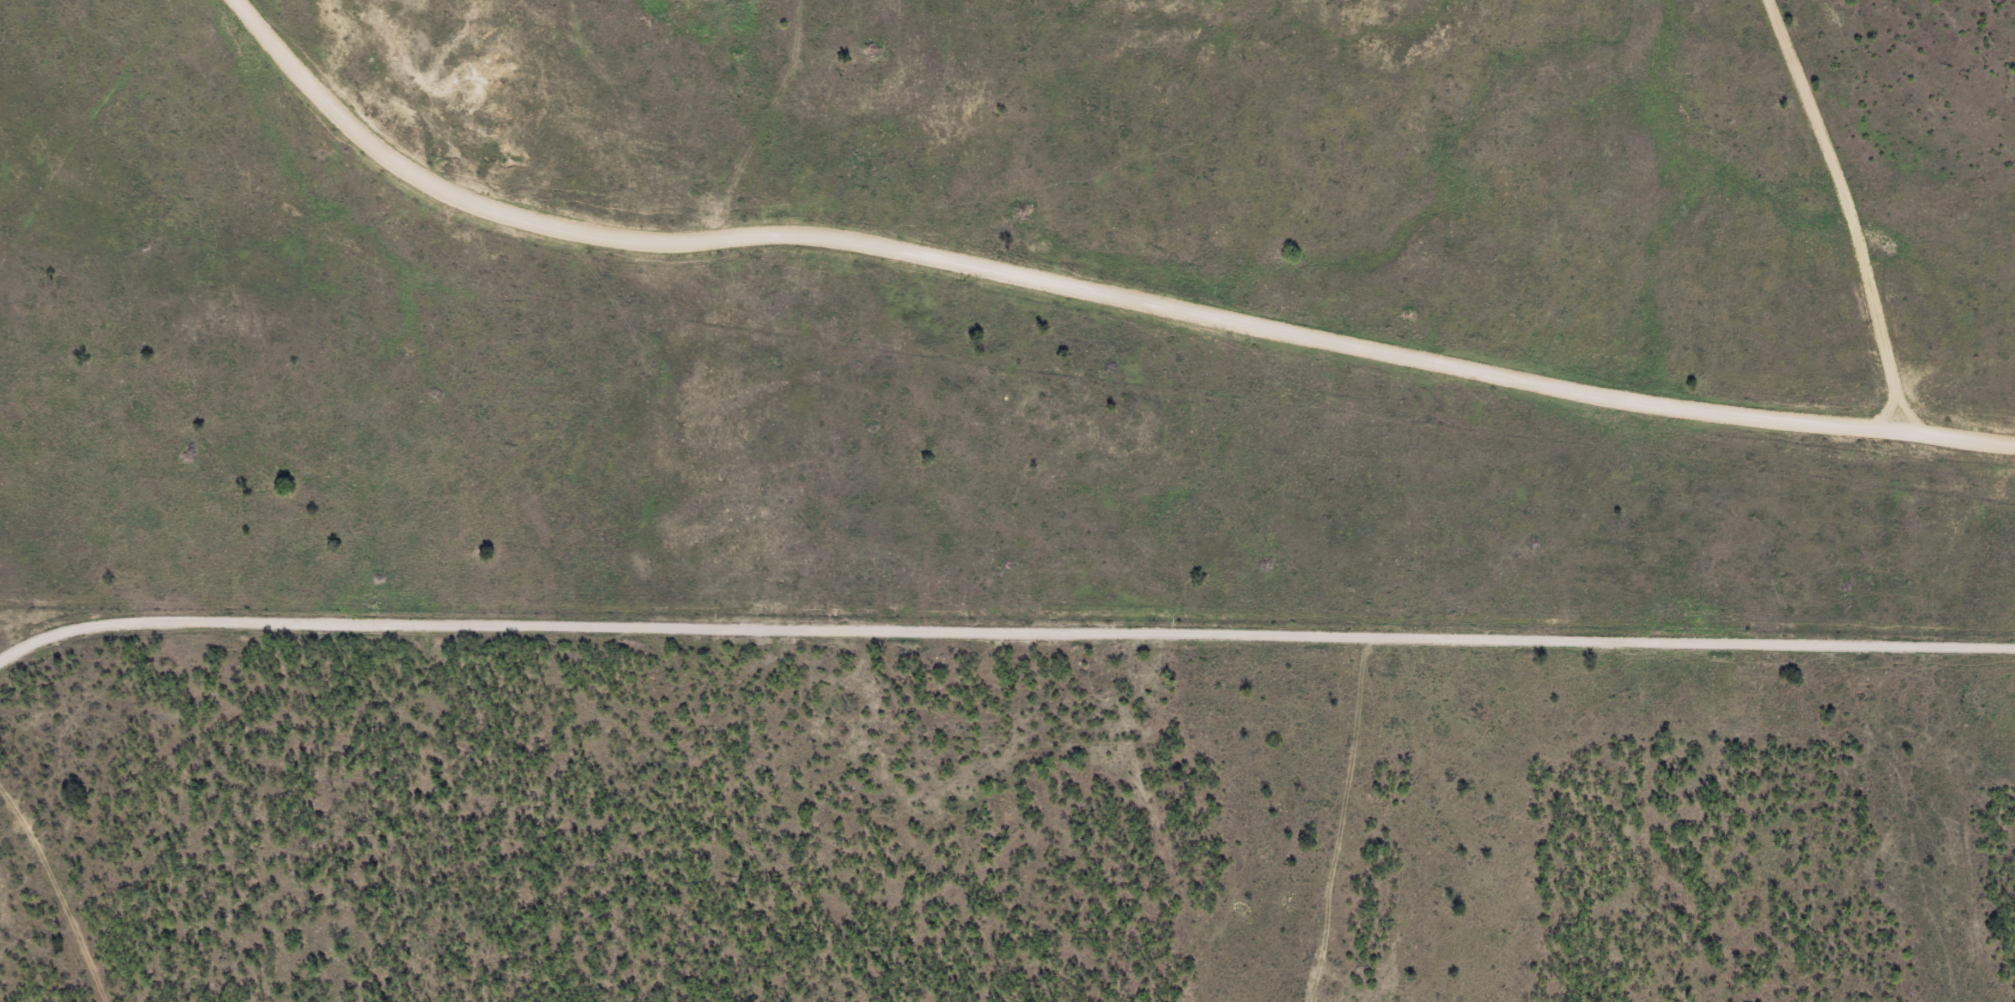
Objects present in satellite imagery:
road: (1831, 198)
road: (1095, 279)

